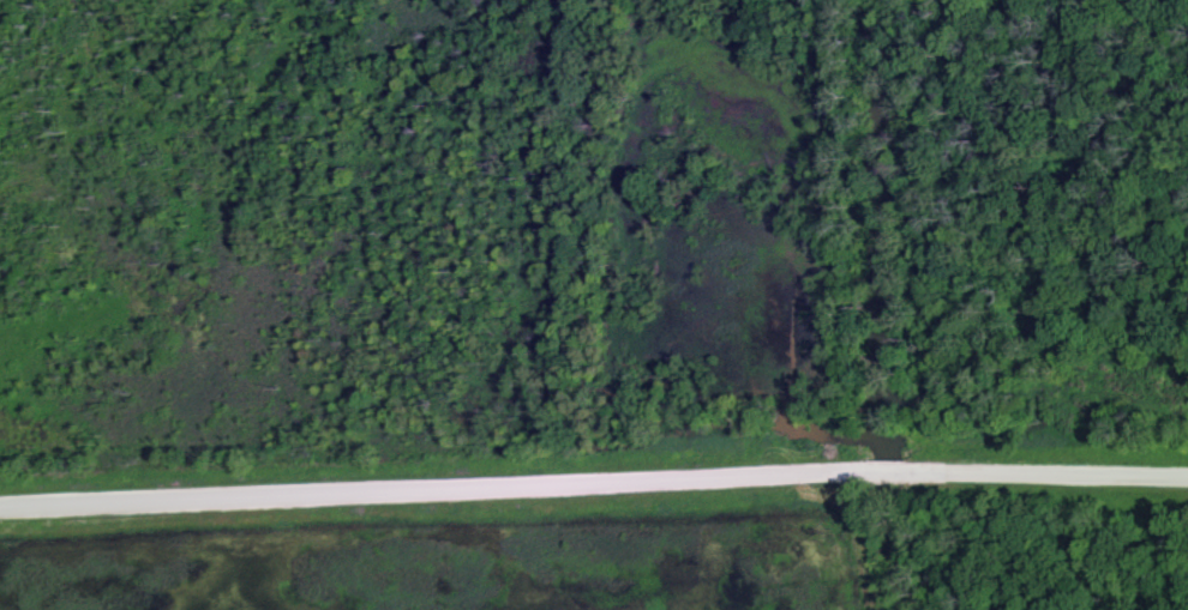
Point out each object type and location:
park: (594, 304)
road: (888, 473)
road: (1067, 476)
road: (415, 488)

